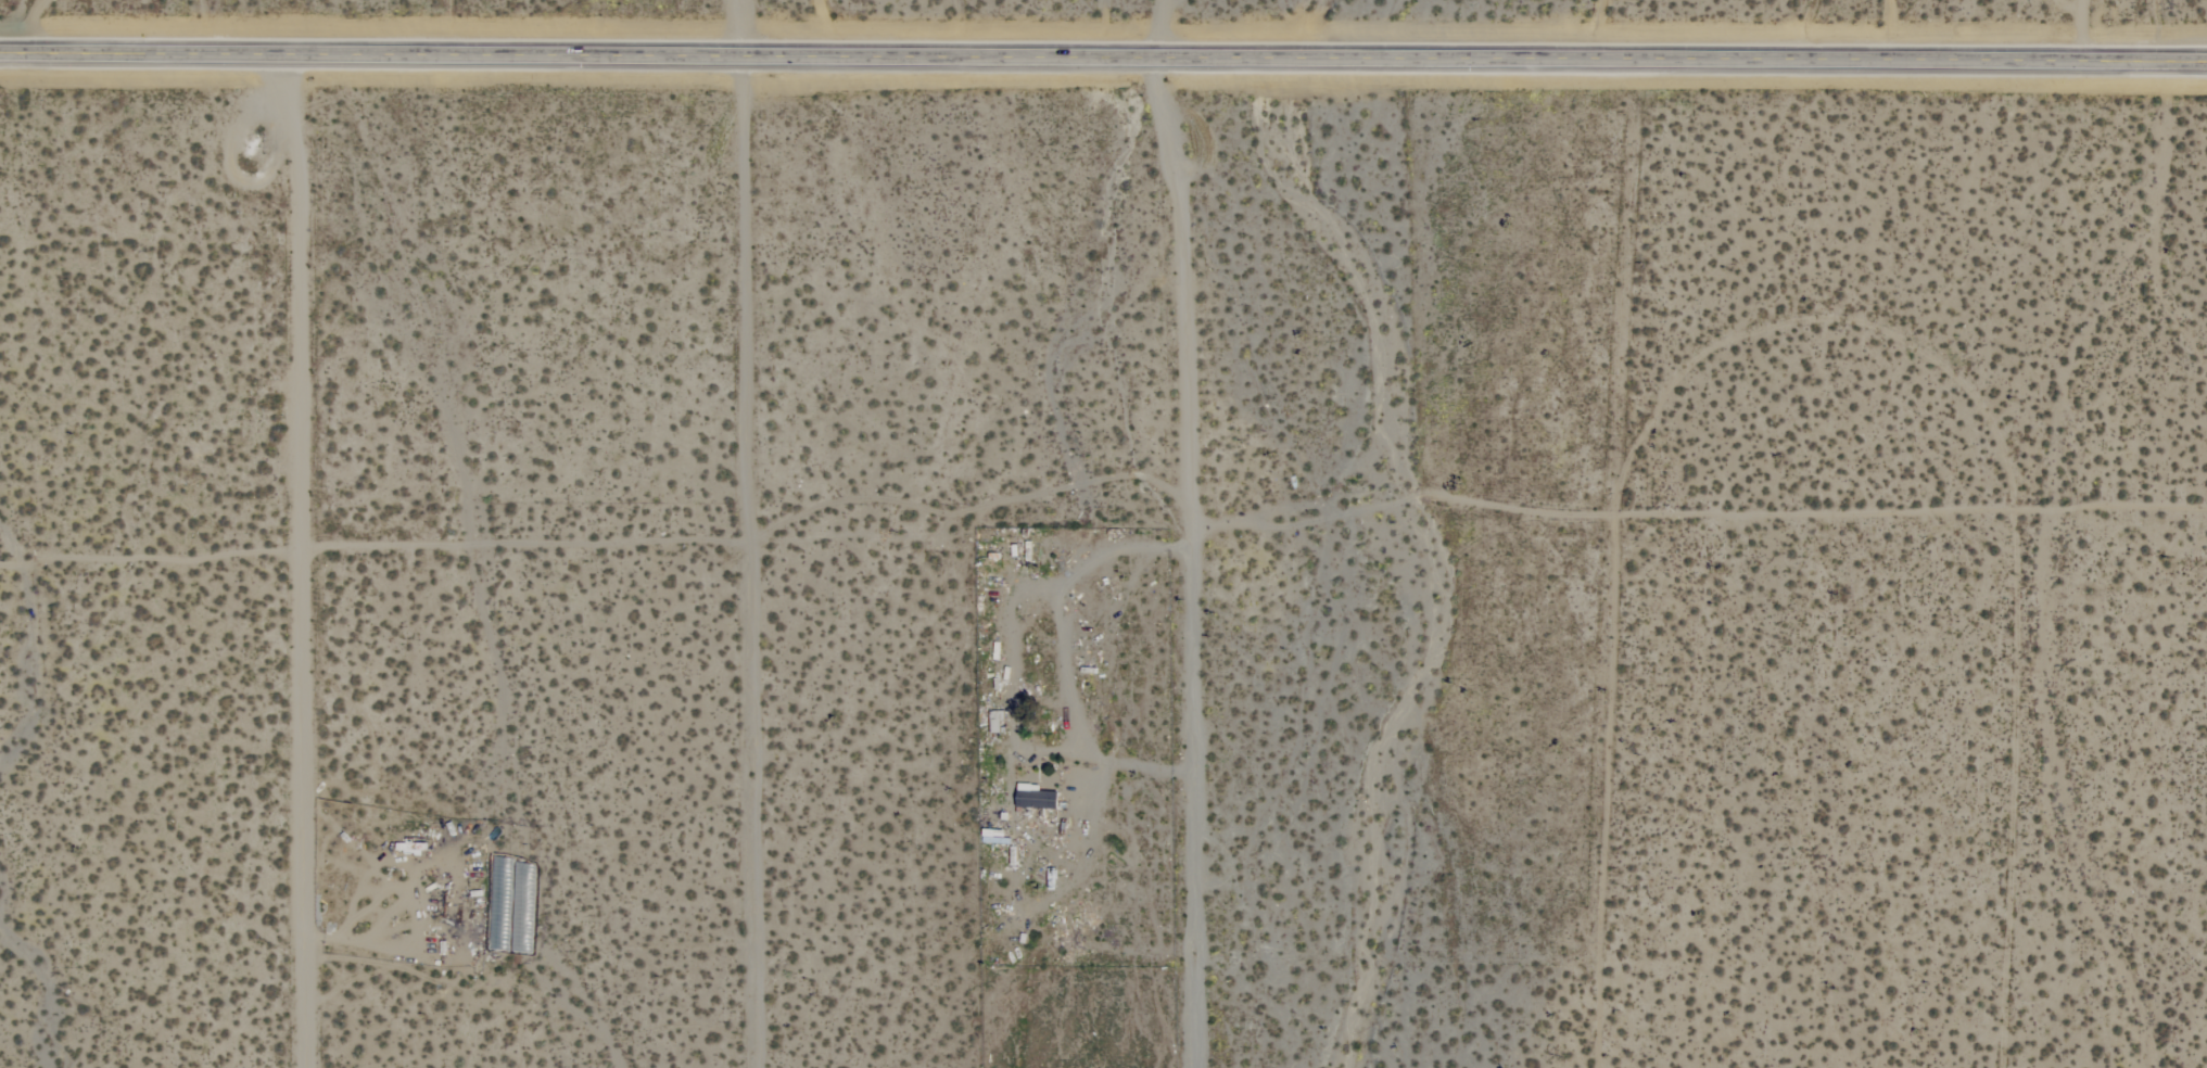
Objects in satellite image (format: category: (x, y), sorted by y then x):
road: (743, 27)
road: (2079, 29)
road: (1103, 55)
road: (1184, 559)
road: (300, 560)
road: (746, 561)
building: (1032, 797)

